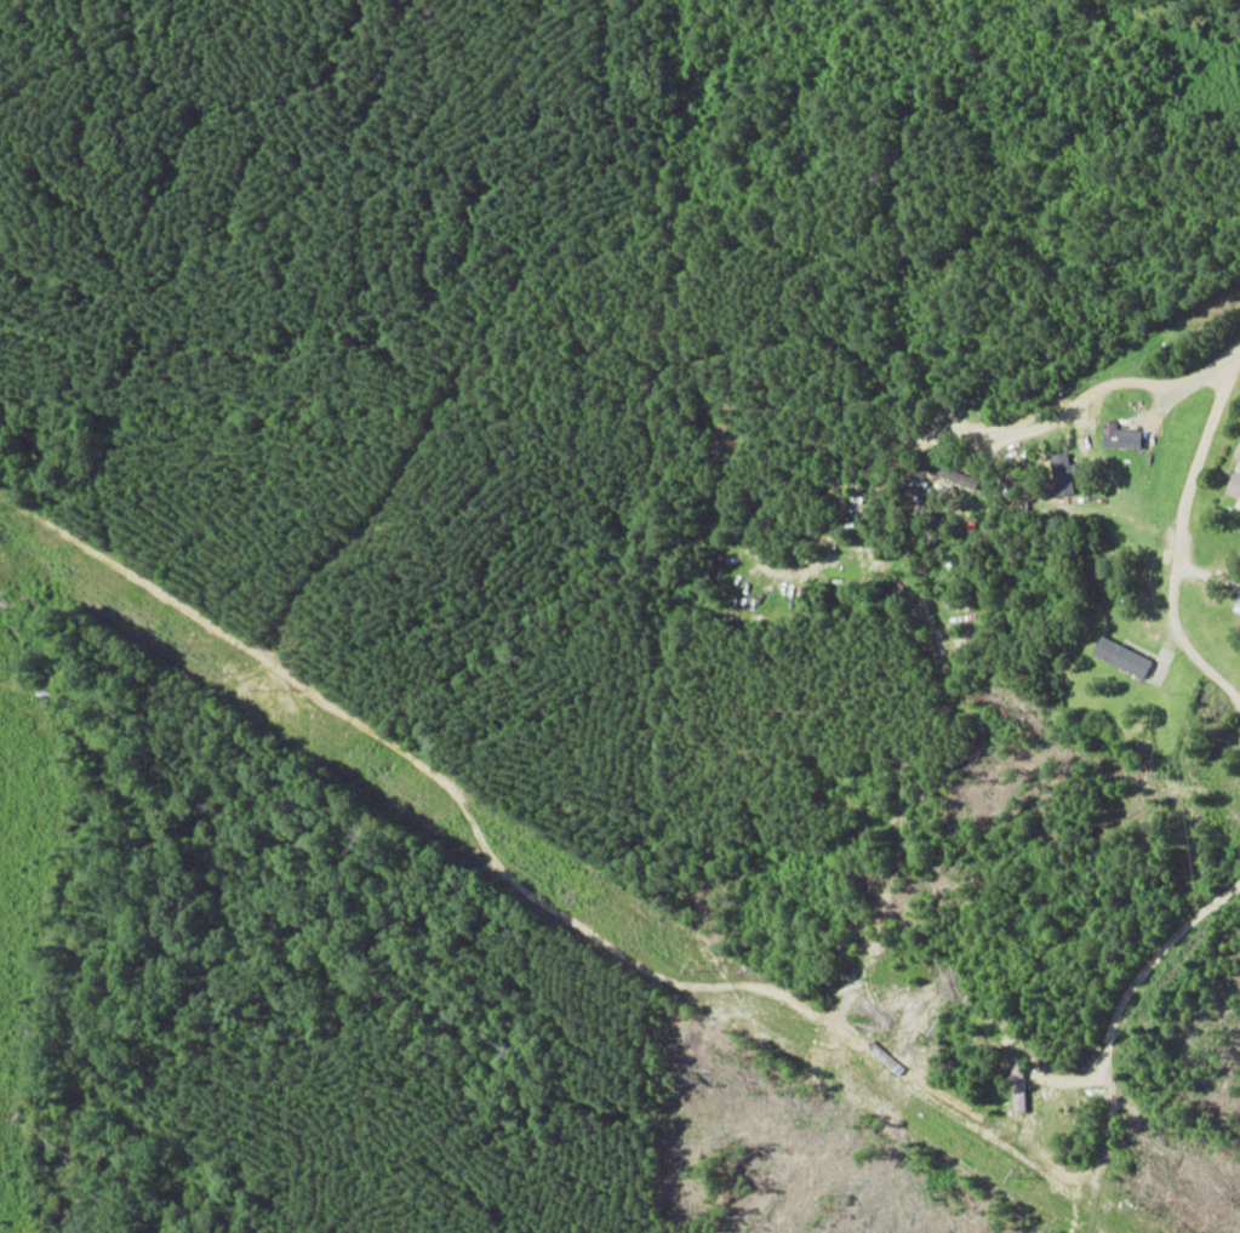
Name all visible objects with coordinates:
road: (1205, 426)
building: (1119, 436)
building: (1062, 474)
building: (1234, 487)
building: (1120, 657)

